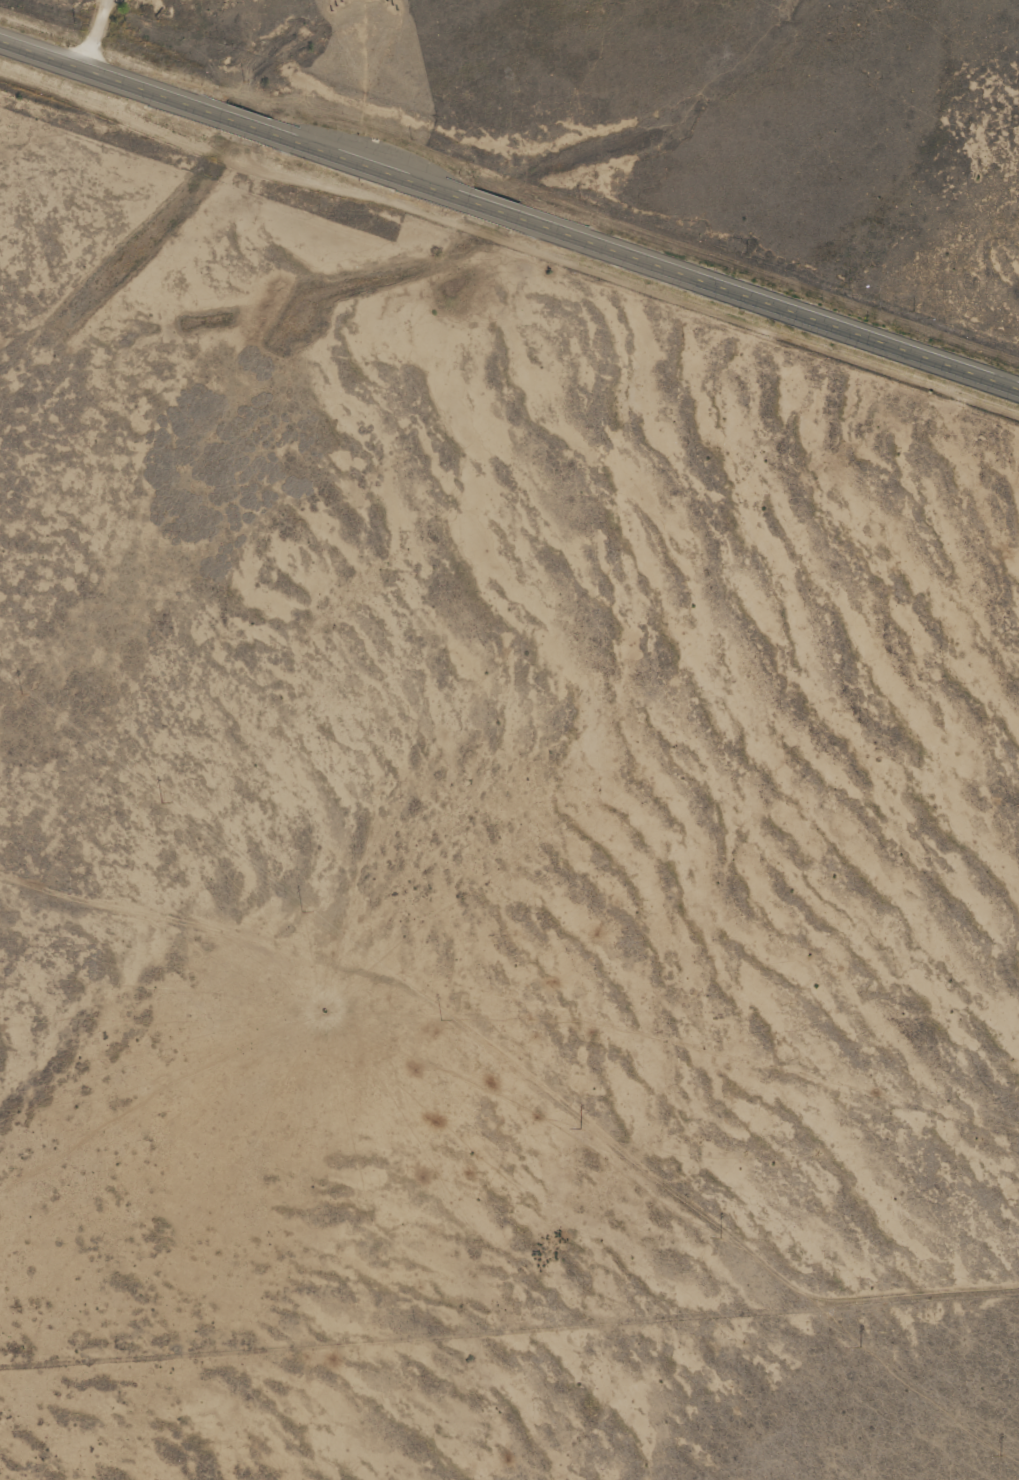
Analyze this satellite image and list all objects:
road: (509, 216)

